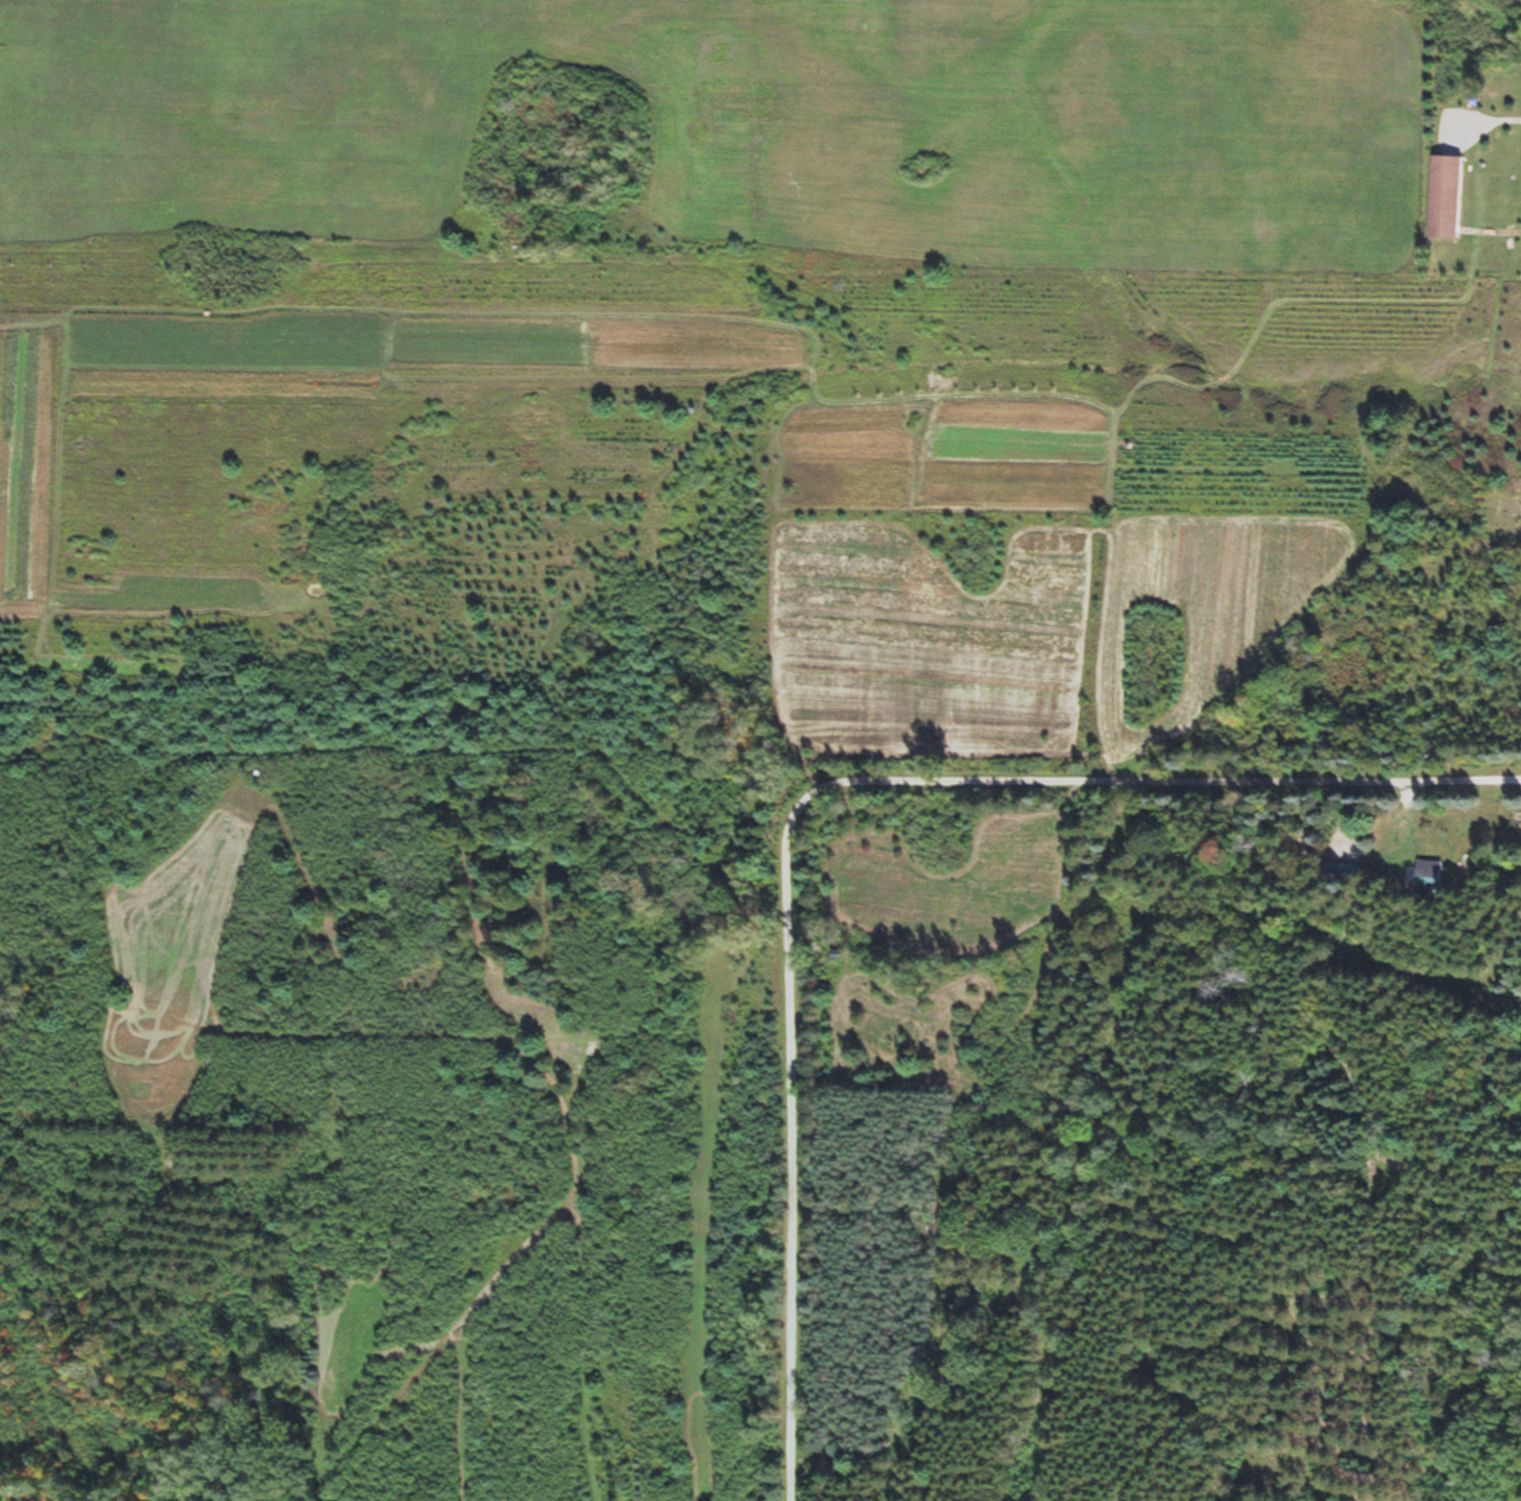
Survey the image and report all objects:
building: (1442, 195)
building: (1424, 879)

